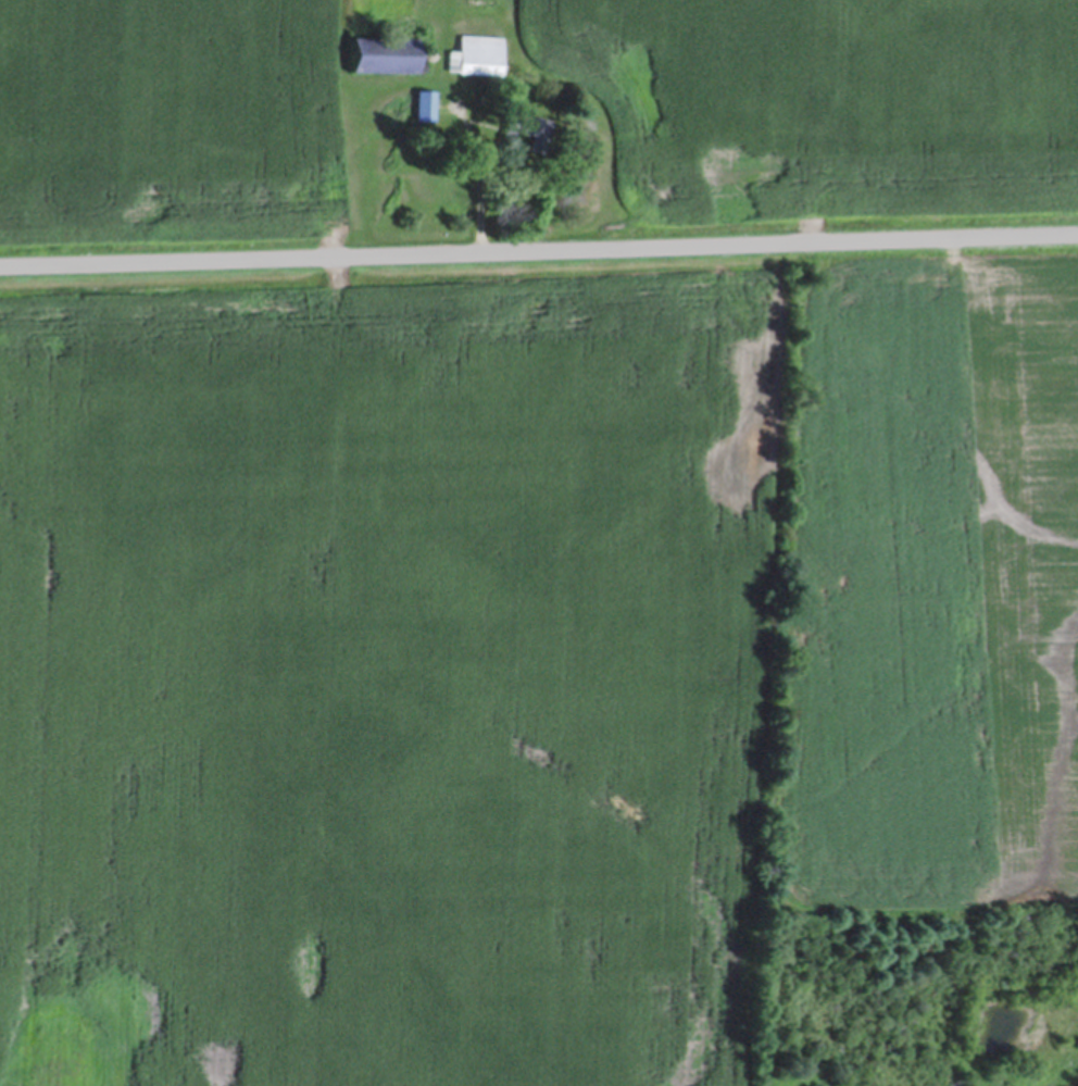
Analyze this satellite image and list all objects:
building: (479, 3)
building: (375, 52)
building: (475, 53)
building: (424, 103)
building: (522, 130)
road: (480, 204)
road: (539, 247)

